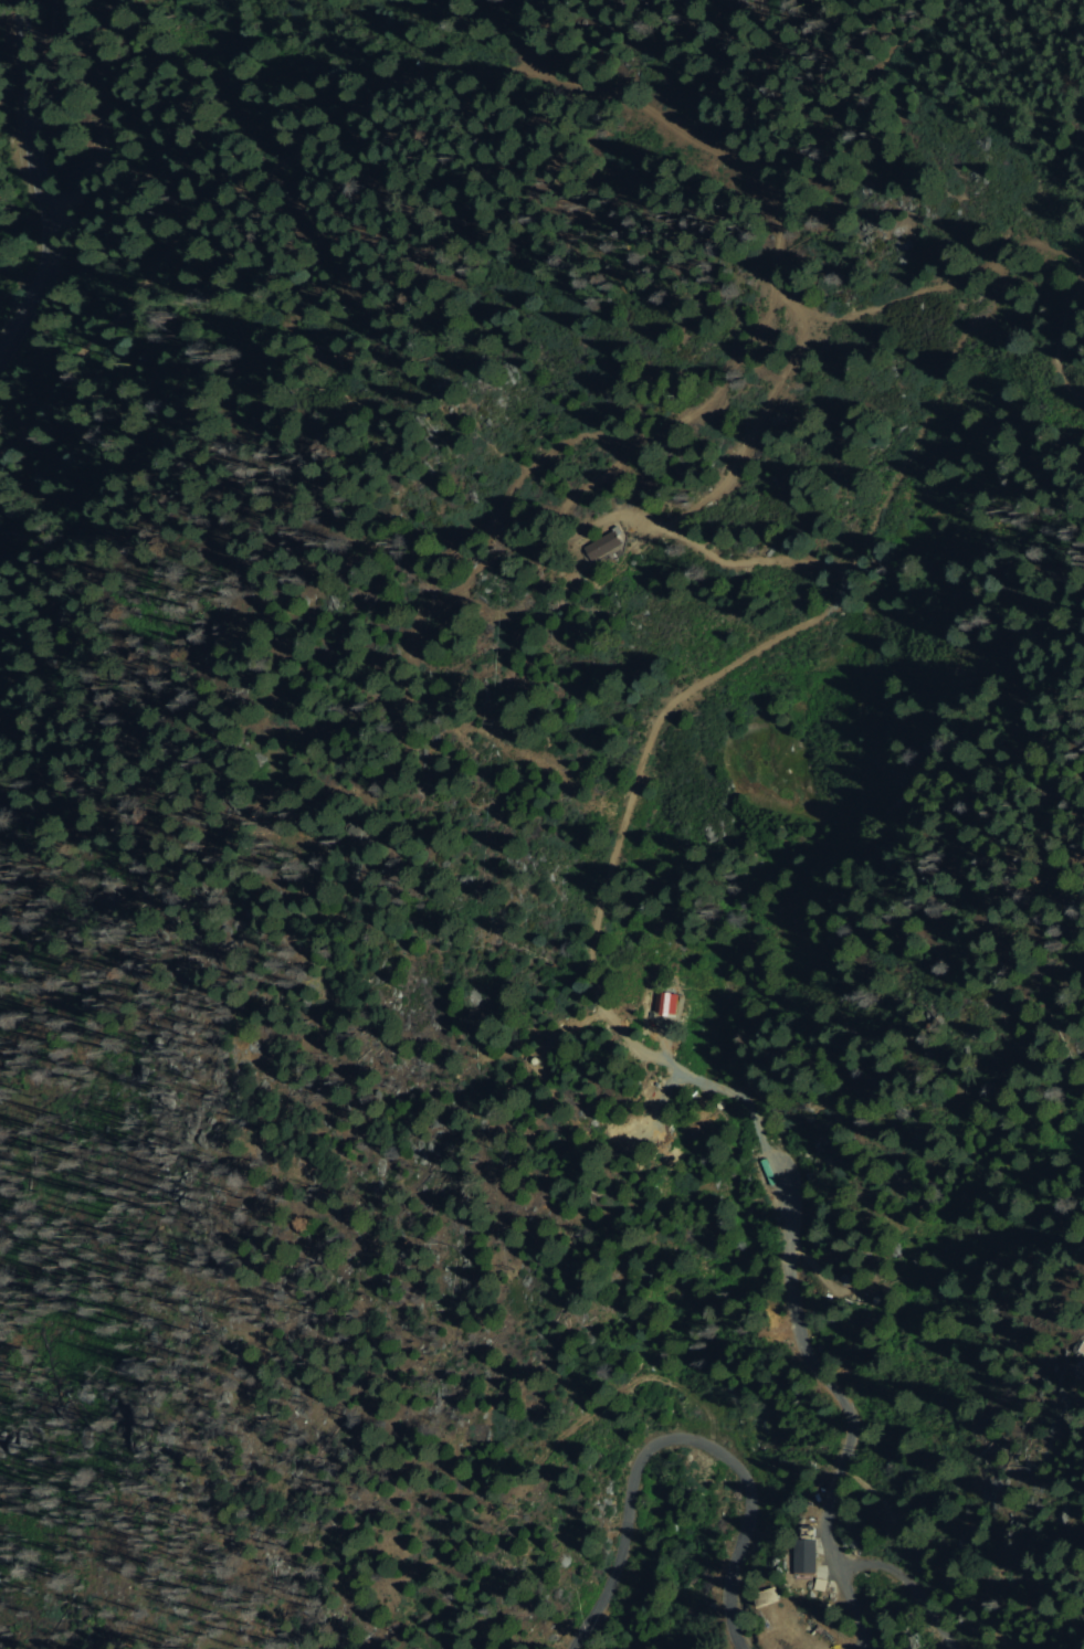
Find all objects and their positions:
road: (99, 125)
road: (38, 179)
building: (601, 547)
building: (804, 1556)
building: (767, 1597)

